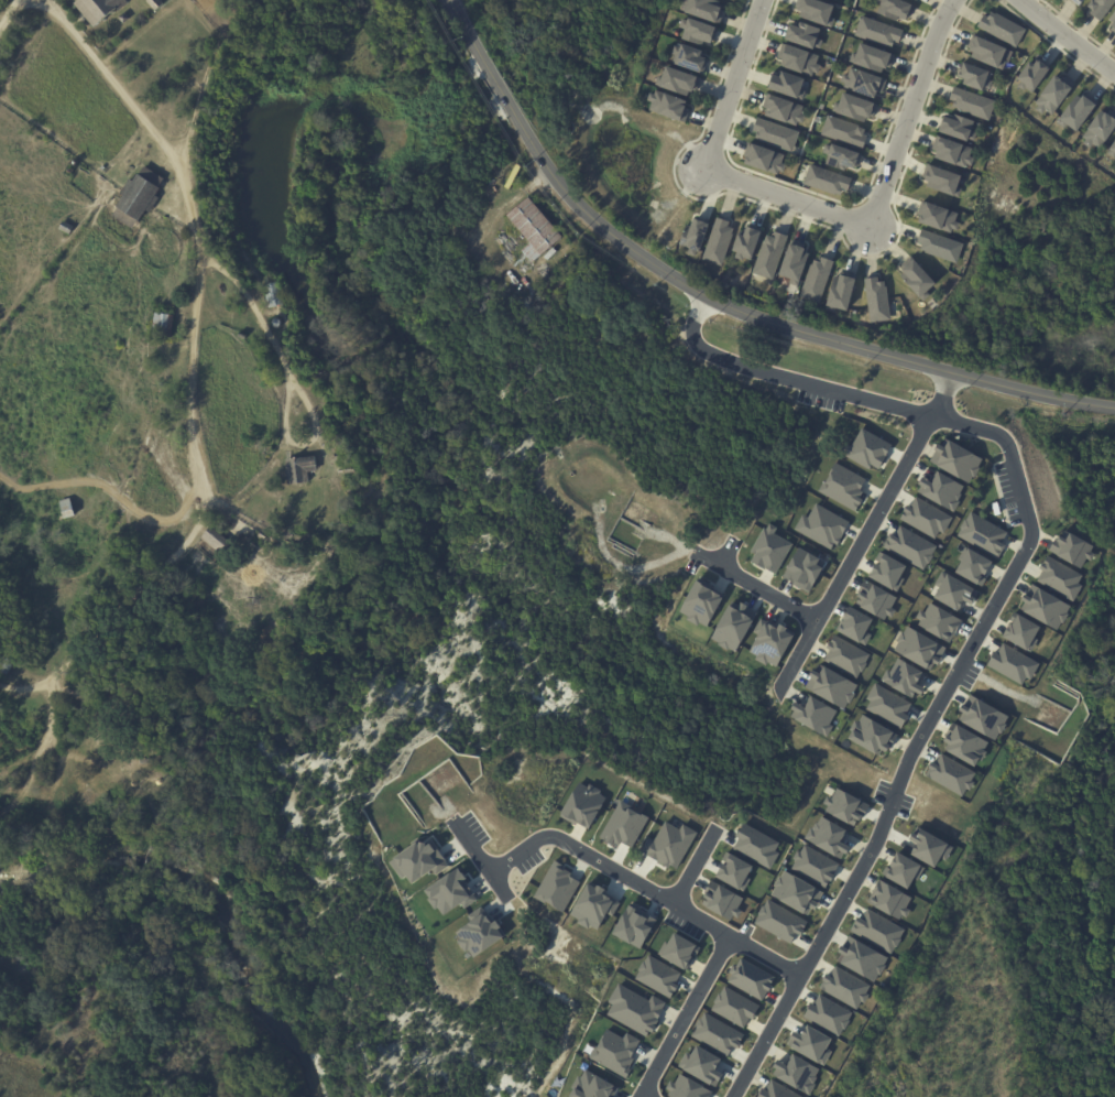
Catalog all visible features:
building: (1075, 2)
building: (153, 3)
road: (40, 4)
building: (1098, 8)
building: (703, 9)
building: (895, 9)
building: (96, 10)
building: (817, 11)
road: (9, 14)
building: (122, 19)
building: (1112, 22)
building: (1001, 29)
building: (698, 31)
building: (877, 31)
road: (468, 34)
building: (804, 35)
road: (1062, 39)
building: (990, 52)
building: (690, 57)
building: (873, 57)
building: (798, 59)
building: (1034, 74)
building: (976, 76)
building: (678, 80)
building: (864, 82)
road: (217, 83)
road: (732, 83)
road: (494, 84)
building: (788, 85)
crop: (67, 93)
building: (1052, 95)
building: (971, 102)
building: (667, 106)
building: (855, 107)
building: (784, 109)
building: (1075, 112)
building: (958, 127)
building: (1096, 128)
building: (843, 131)
building: (775, 134)
building: (1113, 150)
building: (954, 152)
building: (841, 156)
building: (765, 159)
building: (151, 177)
building: (827, 180)
building: (943, 180)
road: (882, 193)
building: (136, 198)
road: (494, 216)
building: (939, 217)
building: (124, 219)
building: (66, 229)
building: (533, 231)
building: (695, 236)
building: (718, 241)
building: (747, 242)
building: (940, 246)
building: (768, 254)
building: (795, 263)
building: (817, 278)
building: (918, 278)
building: (841, 293)
building: (270, 296)
building: (877, 300)
road: (768, 321)
building: (275, 324)
building: (158, 326)
building: (240, 336)
road: (787, 376)
road: (192, 379)
road: (298, 390)
road: (942, 395)
building: (867, 448)
building: (337, 456)
building: (957, 459)
building: (296, 470)
building: (346, 470)
building: (843, 486)
building: (942, 489)
park: (253, 495)
road: (129, 496)
building: (926, 517)
building: (822, 525)
building: (983, 534)
building: (338, 540)
building: (216, 544)
building: (910, 547)
building: (769, 548)
building: (1073, 548)
road: (855, 551)
building: (974, 566)
building: (804, 569)
building: (888, 572)
building: (1060, 577)
road: (758, 588)
building: (955, 593)
building: (876, 599)
building: (701, 604)
building: (1047, 607)
building: (940, 621)
building: (855, 626)
building: (734, 627)
building: (1023, 631)
building: (2, 634)
building: (772, 643)
building: (921, 648)
building: (846, 655)
building: (1013, 664)
building: (6, 667)
building: (904, 677)
building: (831, 686)
building: (887, 705)
road: (87, 712)
building: (816, 715)
building: (984, 718)
building: (873, 735)
road: (48, 736)
road: (920, 736)
building: (966, 746)
building: (110, 764)
building: (951, 773)
building: (112, 776)
building: (130, 784)
building: (583, 805)
building: (846, 806)
building: (623, 825)
building: (829, 837)
building: (669, 845)
building: (756, 845)
building: (930, 847)
building: (418, 859)
road: (481, 860)
building: (813, 865)
road: (693, 868)
building: (904, 870)
building: (734, 872)
building: (556, 887)
road: (645, 888)
building: (450, 892)
building: (796, 892)
building: (890, 899)
building: (721, 900)
building: (593, 906)
building: (779, 921)
building: (634, 926)
building: (877, 930)
building: (479, 934)
building: (678, 951)
building: (863, 959)
building: (657, 976)
building: (751, 979)
building: (845, 987)
building: (734, 1007)
building: (635, 1009)
building: (828, 1014)
road: (685, 1017)
building: (717, 1034)
building: (812, 1043)
building: (616, 1051)
building: (702, 1064)
building: (797, 1073)
building: (593, 1086)
building: (687, 1087)
building: (776, 1090)
road: (642, 1096)

